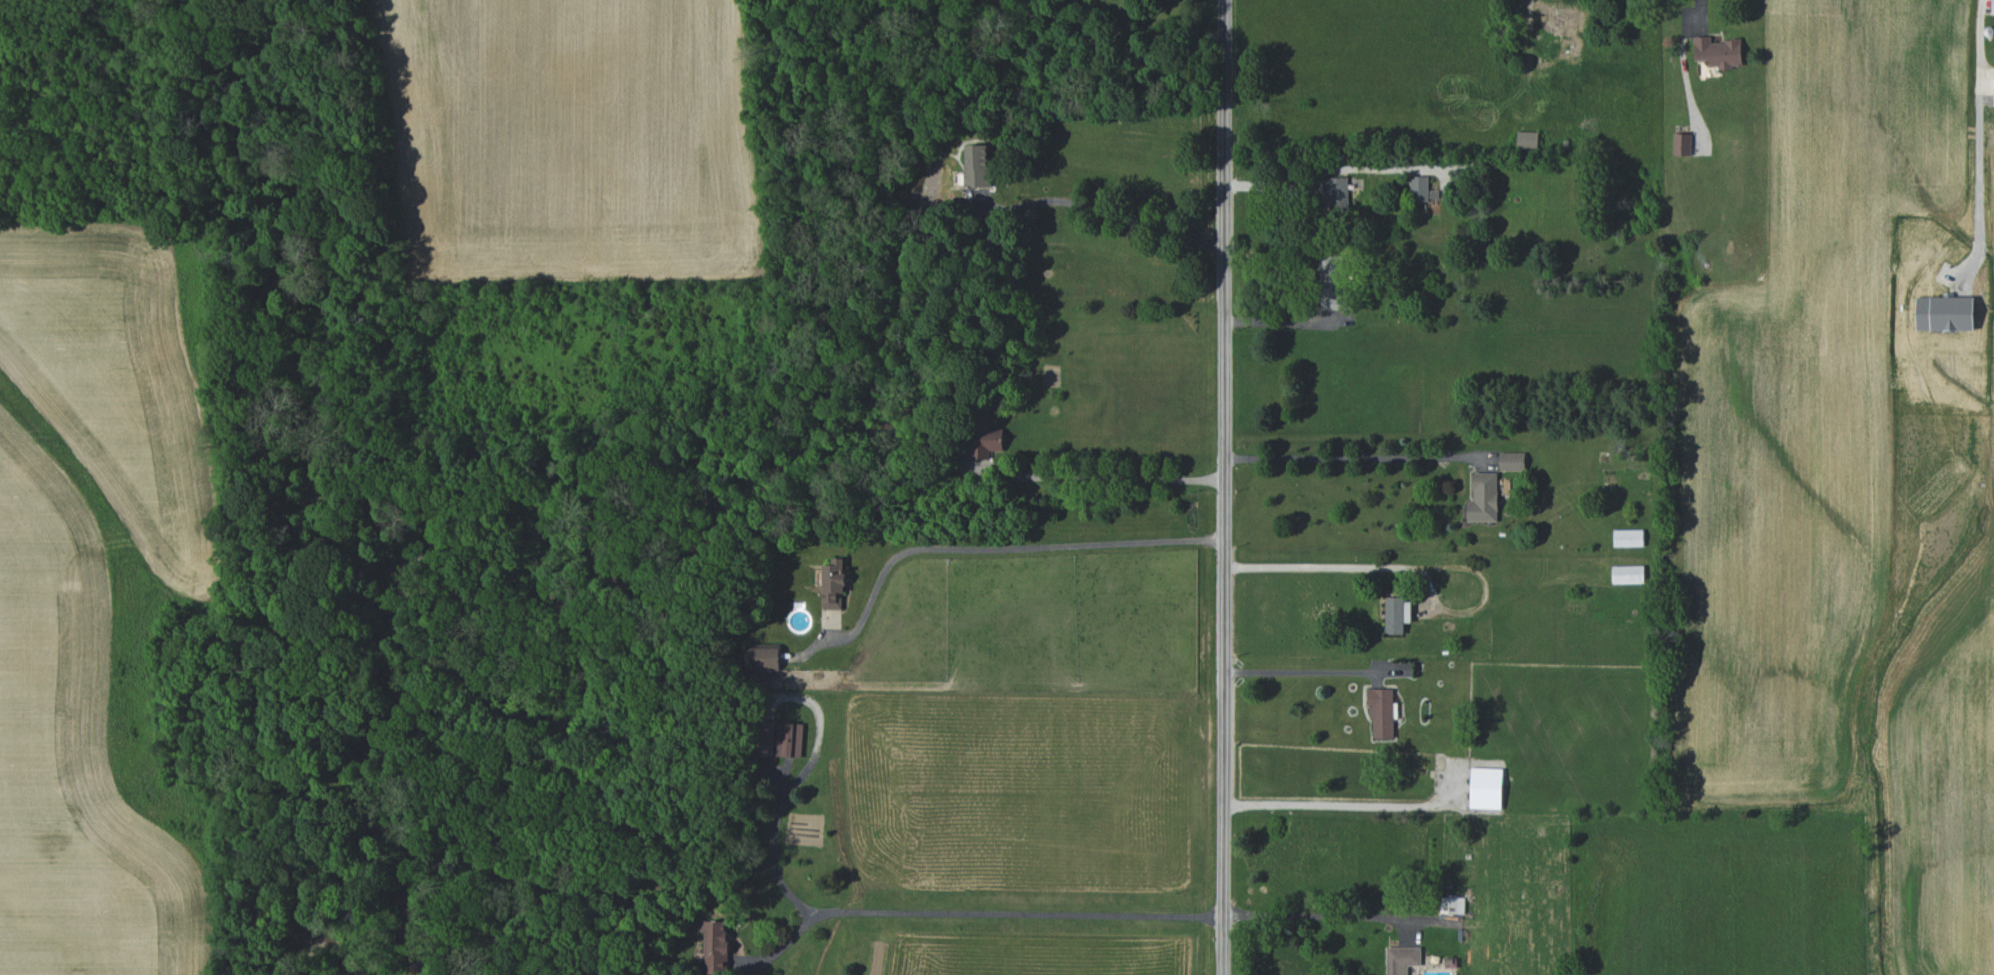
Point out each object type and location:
building: (1992, 7)
building: (1560, 22)
building: (1718, 52)
road: (1977, 126)
building: (1527, 139)
building: (1682, 144)
building: (978, 166)
road: (1331, 169)
building: (1419, 189)
building: (1336, 195)
road: (1103, 210)
building: (1332, 283)
road: (1282, 326)
road: (1354, 457)
building: (1512, 461)
road: (1101, 477)
road: (1223, 487)
building: (1484, 498)
building: (1628, 537)
road: (1002, 548)
road: (1336, 571)
building: (1628, 574)
building: (834, 584)
building: (1397, 614)
building: (763, 657)
road: (1301, 672)
building: (1382, 713)
building: (763, 738)
building: (789, 739)
building: (1486, 788)
road: (788, 792)
road: (1332, 803)
building: (1452, 905)
road: (980, 912)
road: (1366, 927)
building: (715, 946)
building: (1402, 959)

